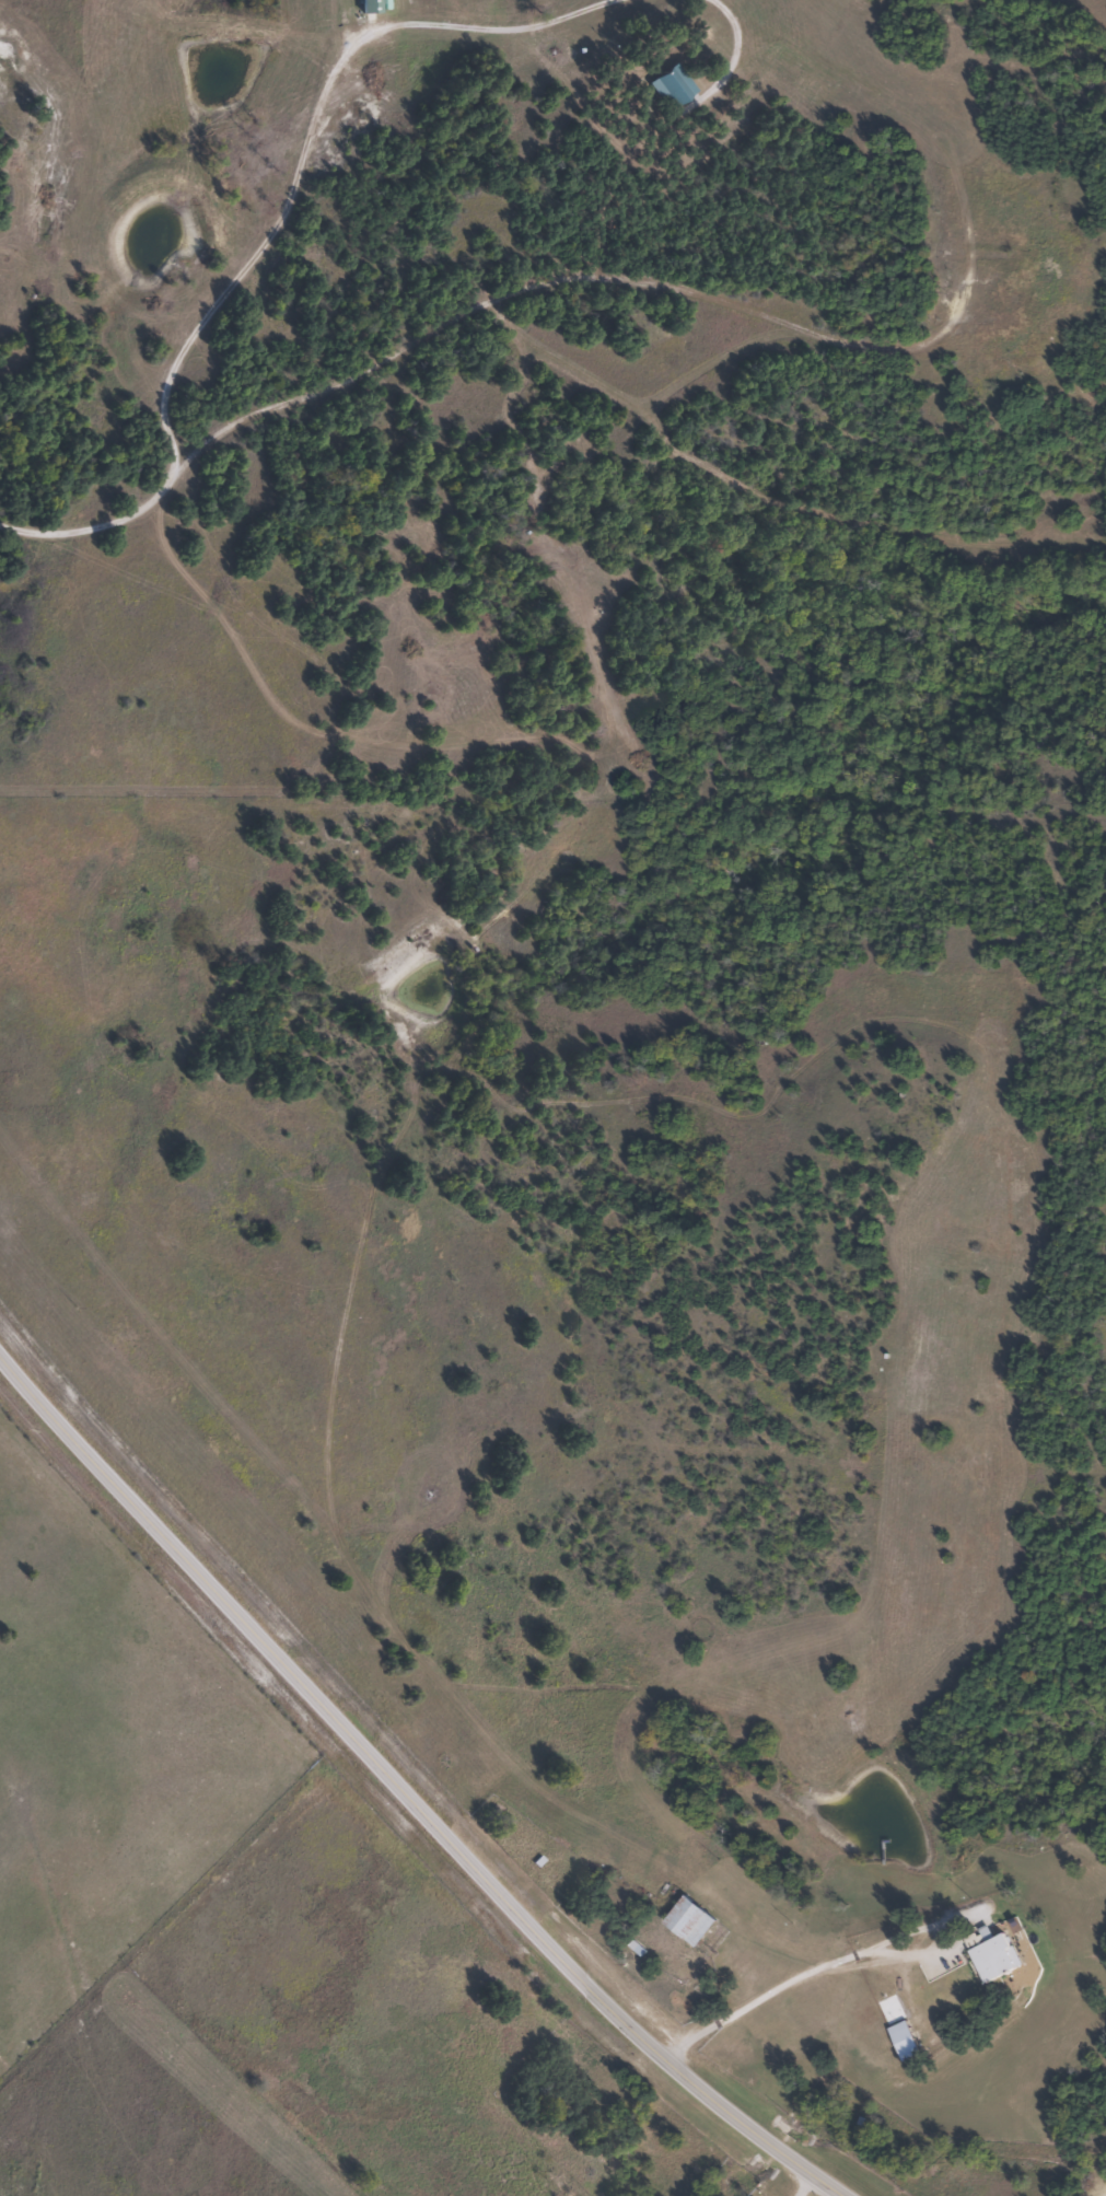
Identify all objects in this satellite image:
building: (370, 5)
building: (673, 85)
road: (499, 298)
road: (403, 1796)
building: (691, 1920)
building: (992, 1954)
building: (905, 2041)

